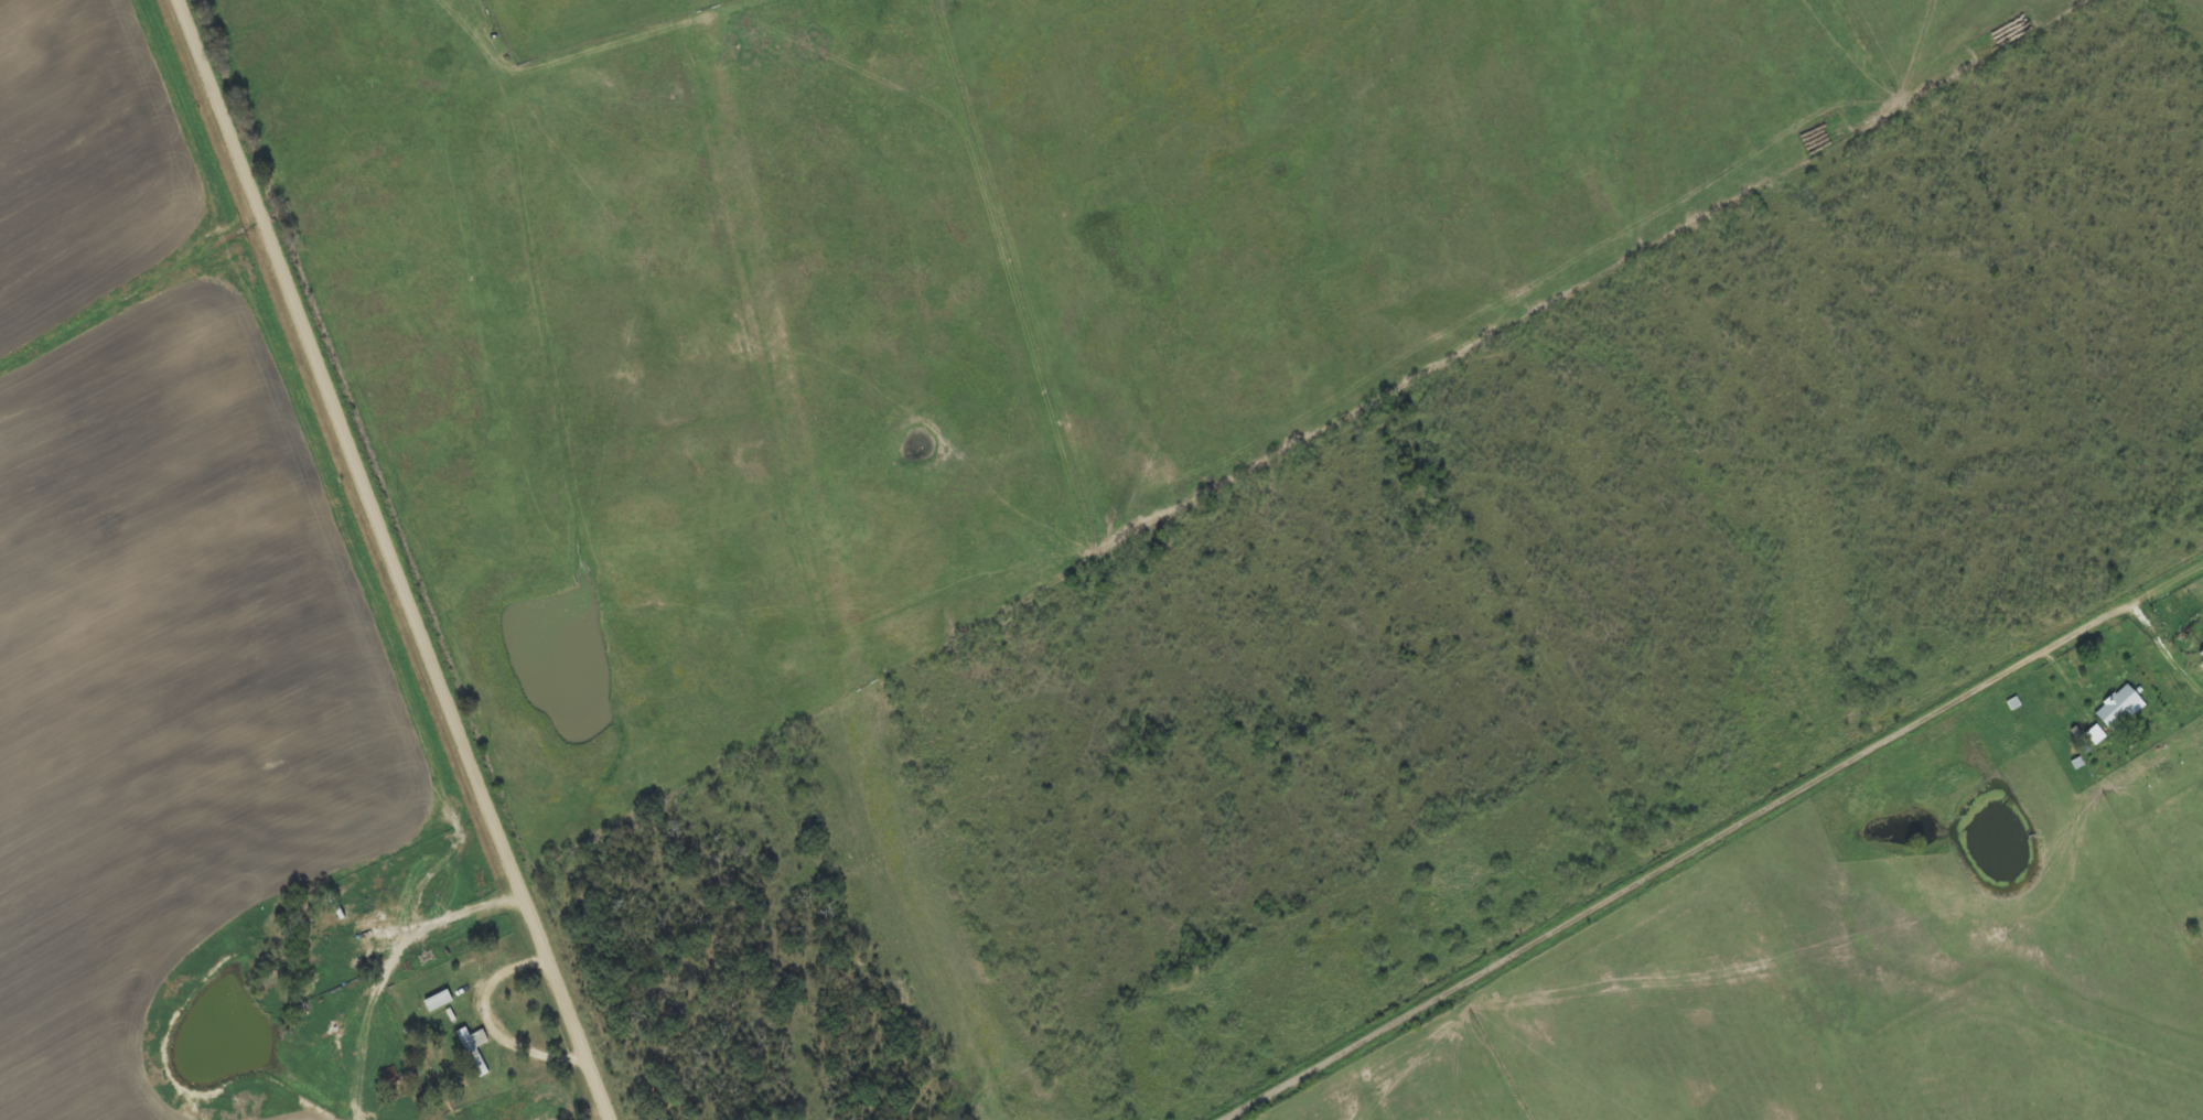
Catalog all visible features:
road: (399, 560)
building: (2202, 654)
building: (2120, 711)
building: (2095, 736)
building: (438, 1003)
building: (474, 1051)
road: (1346, 1056)

